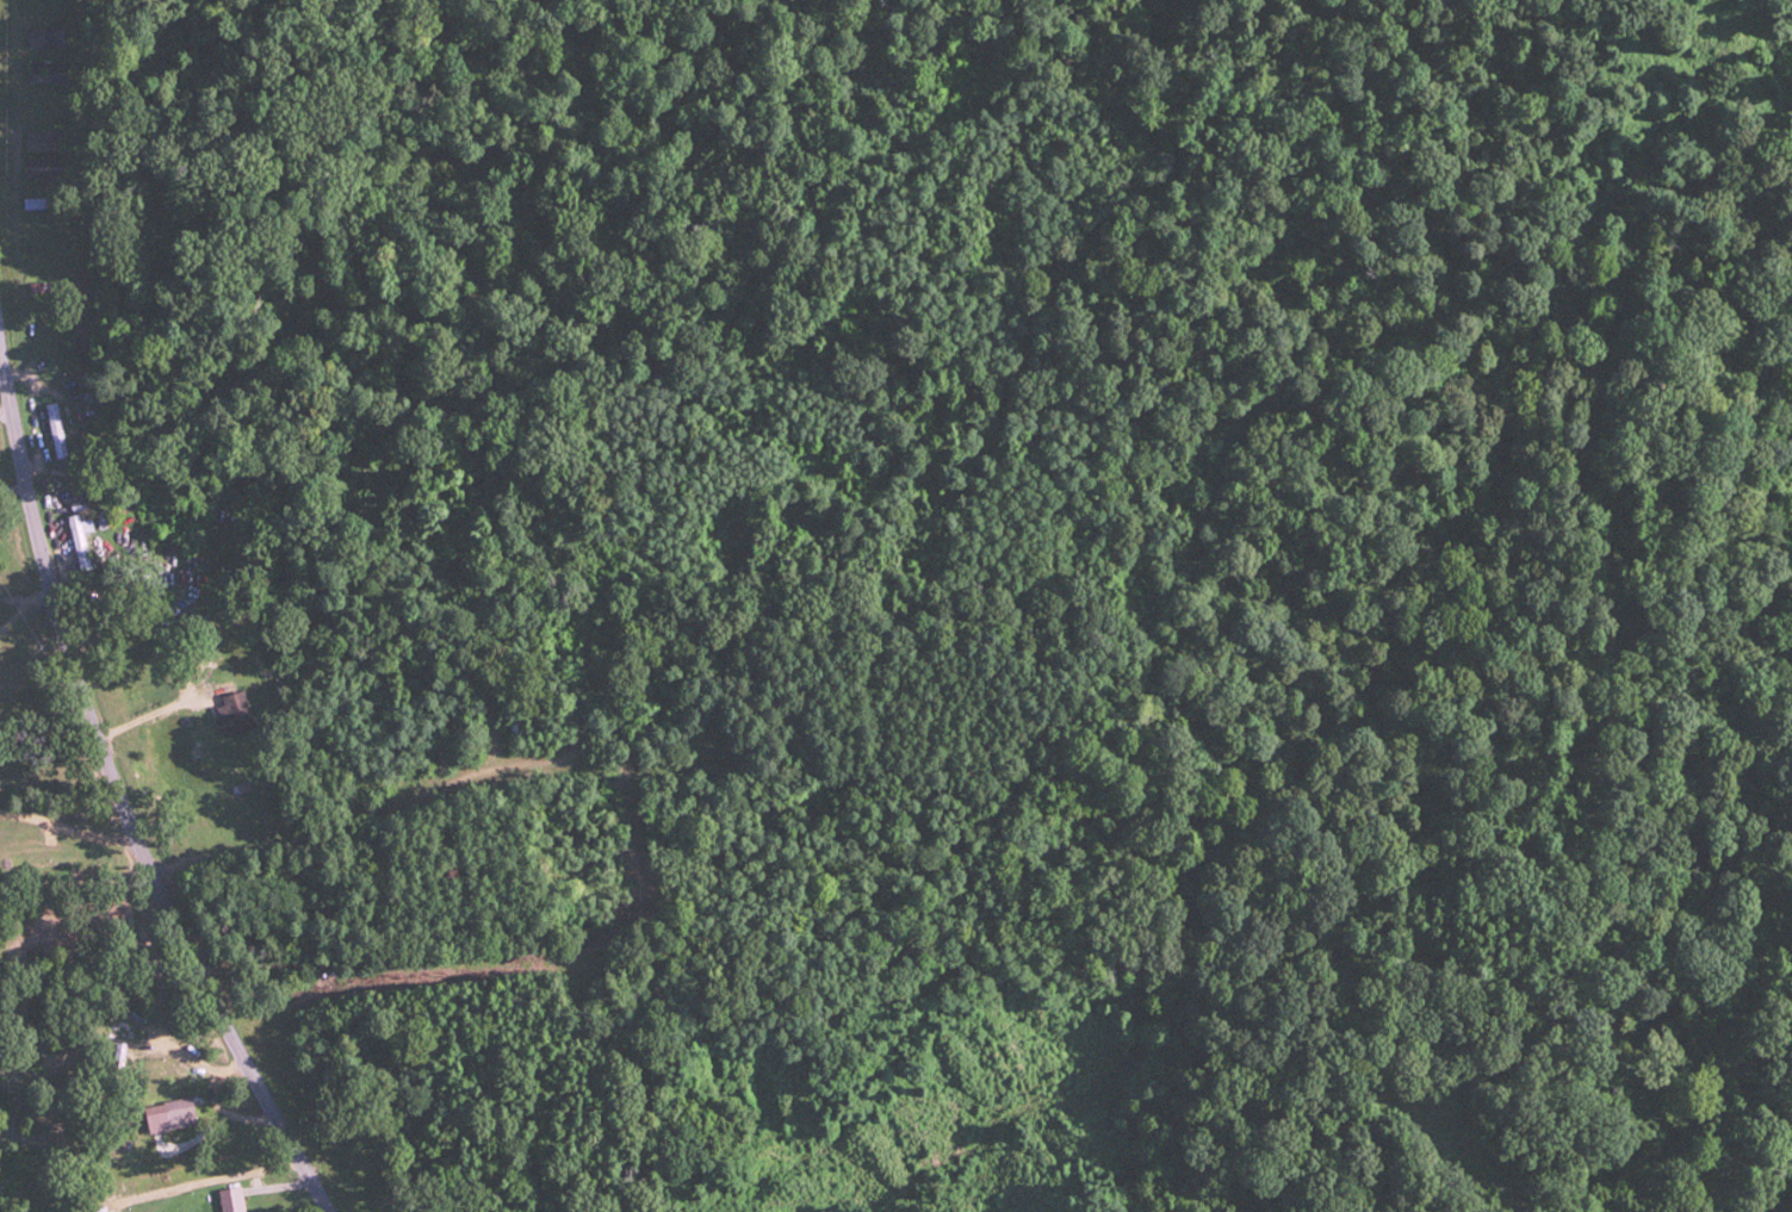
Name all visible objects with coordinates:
building: (43, 37)
building: (60, 57)
building: (45, 77)
building: (51, 105)
building: (45, 141)
building: (44, 168)
building: (41, 203)
building: (46, 248)
building: (43, 287)
road: (25, 373)
building: (52, 430)
building: (76, 543)
road: (106, 634)
building: (235, 715)
road: (754, 725)
building: (515, 731)
building: (117, 1059)
building: (178, 1112)
building: (229, 1199)

